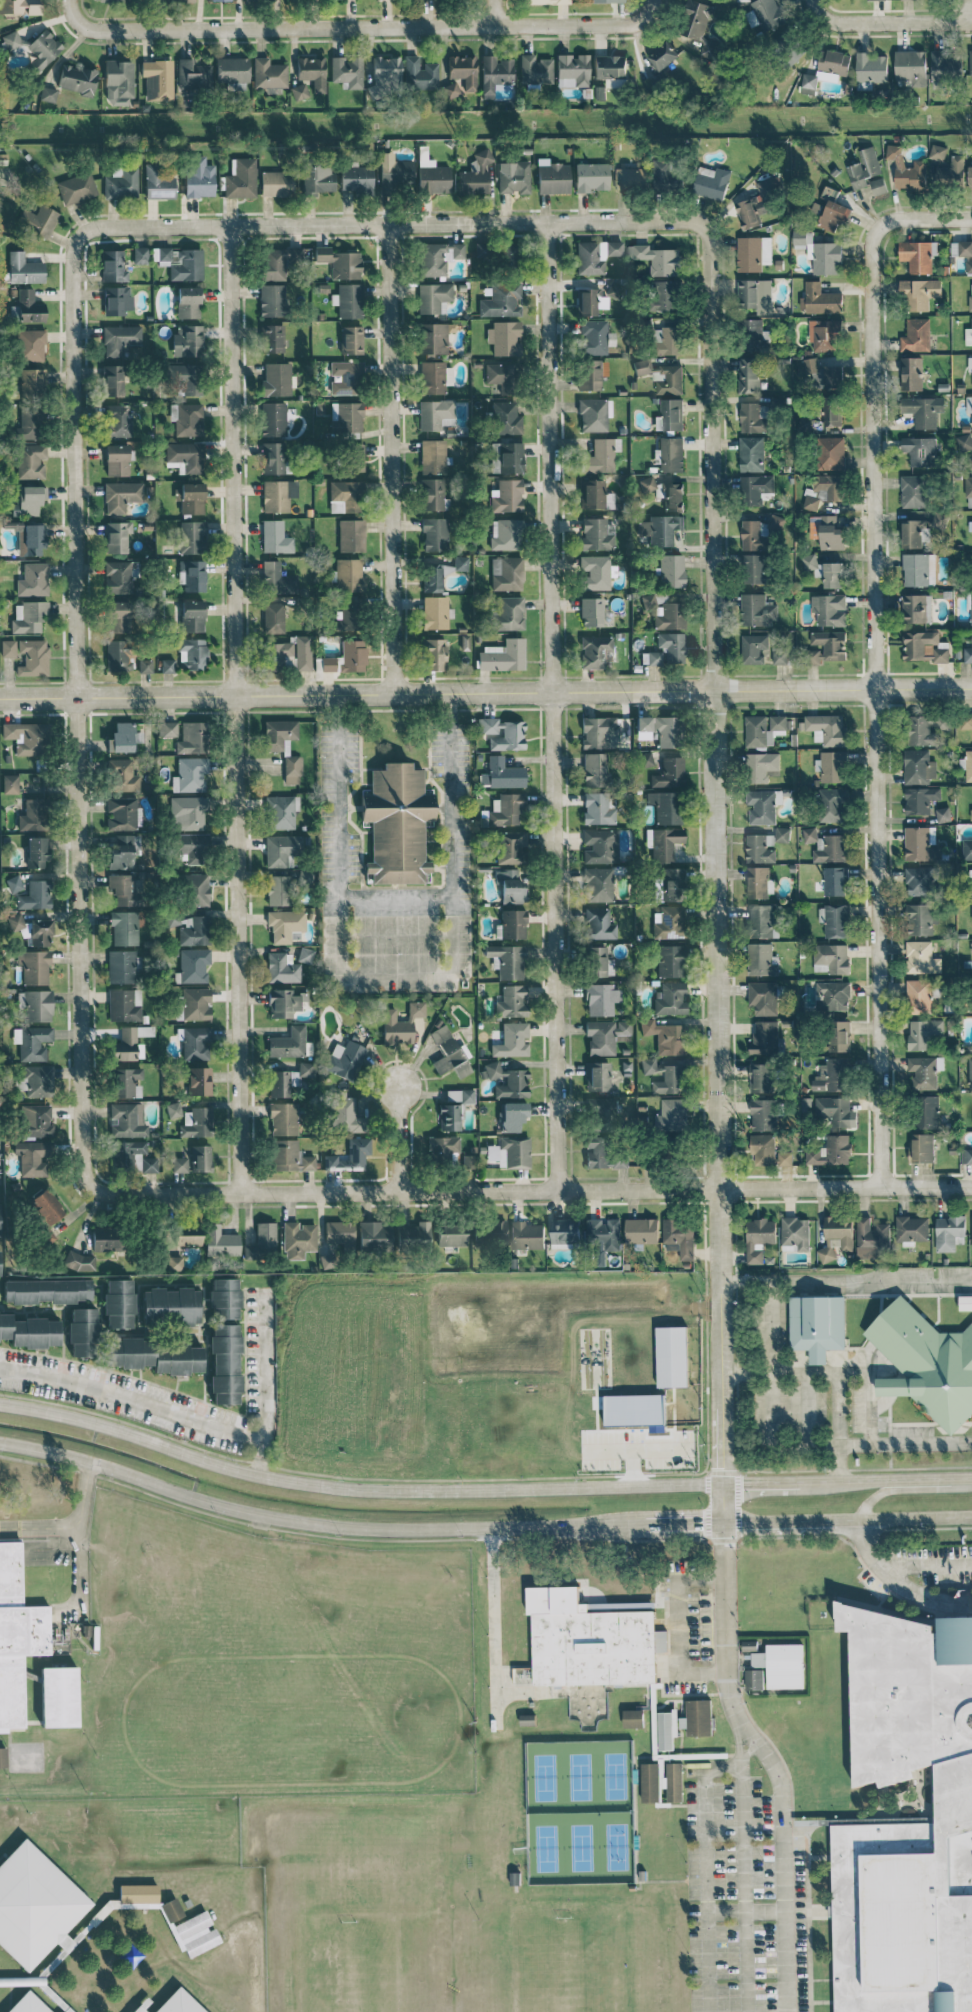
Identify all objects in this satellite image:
building: (103, 0)
building: (180, 0)
building: (546, 1)
building: (606, 1)
building: (20, 6)
road: (808, 8)
road: (649, 9)
road: (968, 9)
road: (72, 11)
road: (494, 13)
building: (765, 14)
road: (892, 19)
building: (699, 25)
road: (360, 26)
building: (37, 47)
building: (663, 55)
building: (834, 61)
building: (970, 62)
building: (946, 64)
building: (871, 67)
building: (910, 67)
building: (535, 69)
building: (572, 70)
building: (232, 71)
building: (347, 71)
building: (384, 71)
building: (463, 71)
building: (312, 72)
building: (420, 72)
building: (269, 73)
building: (193, 75)
building: (495, 75)
building: (76, 79)
building: (157, 79)
building: (119, 82)
building: (809, 83)
building: (451, 89)
building: (299, 91)
building: (599, 92)
building: (48, 94)
building: (938, 152)
building: (864, 167)
building: (907, 169)
building: (950, 170)
building: (395, 173)
building: (475, 174)
building: (969, 175)
building: (432, 176)
building: (666, 176)
building: (198, 177)
building: (317, 177)
building: (514, 177)
building: (552, 177)
building: (591, 177)
building: (240, 178)
building: (357, 179)
building: (631, 179)
building: (711, 181)
building: (160, 182)
building: (121, 183)
building: (276, 183)
building: (878, 185)
building: (76, 188)
building: (757, 202)
building: (834, 211)
road: (920, 218)
building: (41, 221)
road: (391, 223)
building: (961, 248)
building: (482, 250)
building: (753, 252)
building: (820, 252)
building: (140, 255)
building: (595, 255)
building: (917, 255)
building: (438, 257)
building: (507, 258)
building: (657, 258)
building: (280, 261)
building: (182, 262)
building: (340, 262)
building: (113, 266)
building: (968, 266)
building: (23, 269)
building: (613, 288)
building: (920, 292)
building: (756, 294)
building: (970, 294)
building: (665, 295)
building: (433, 297)
building: (820, 298)
building: (116, 300)
building: (272, 300)
building: (501, 300)
building: (587, 301)
building: (188, 302)
building: (29, 306)
building: (825, 333)
building: (750, 334)
building: (968, 334)
building: (916, 335)
building: (593, 336)
building: (434, 337)
building: (119, 338)
building: (272, 338)
building: (504, 338)
building: (351, 339)
building: (669, 339)
building: (187, 340)
building: (31, 345)
building: (643, 366)
building: (591, 373)
building: (824, 373)
building: (911, 373)
building: (971, 373)
building: (749, 374)
building: (502, 376)
building: (347, 377)
building: (432, 377)
building: (187, 379)
building: (277, 379)
building: (669, 379)
building: (113, 380)
building: (32, 381)
building: (923, 409)
building: (832, 410)
building: (971, 410)
building: (434, 413)
building: (594, 414)
building: (670, 414)
building: (346, 417)
building: (754, 417)
building: (507, 418)
building: (273, 419)
building: (117, 420)
building: (190, 420)
building: (28, 423)
building: (920, 450)
building: (831, 452)
building: (671, 453)
building: (751, 453)
building: (187, 455)
building: (432, 456)
building: (600, 456)
building: (273, 457)
building: (353, 457)
building: (506, 457)
road: (390, 458)
building: (31, 460)
building: (117, 460)
building: (646, 483)
building: (756, 488)
building: (823, 490)
building: (913, 490)
building: (969, 491)
building: (347, 494)
building: (433, 494)
building: (594, 494)
building: (122, 495)
building: (278, 495)
building: (507, 496)
building: (672, 496)
building: (190, 498)
building: (28, 500)
building: (940, 521)
building: (969, 525)
building: (661, 528)
building: (759, 531)
building: (827, 531)
building: (914, 532)
building: (435, 534)
building: (506, 534)
building: (597, 534)
building: (349, 535)
building: (192, 536)
building: (116, 537)
building: (275, 537)
building: (32, 540)
building: (460, 562)
building: (755, 568)
building: (919, 569)
building: (825, 570)
building: (670, 571)
building: (506, 573)
building: (192, 575)
building: (349, 575)
building: (118, 577)
building: (432, 577)
building: (33, 579)
building: (277, 579)
building: (648, 601)
building: (971, 605)
building: (829, 609)
building: (758, 610)
building: (591, 611)
building: (434, 612)
building: (508, 614)
building: (349, 615)
building: (28, 616)
building: (117, 616)
building: (192, 616)
building: (670, 616)
building: (273, 617)
building: (827, 645)
building: (925, 646)
building: (671, 647)
building: (753, 647)
building: (8, 648)
building: (596, 651)
building: (303, 652)
building: (192, 653)
building: (278, 654)
building: (435, 654)
building: (967, 654)
building: (117, 655)
building: (503, 655)
building: (783, 655)
building: (33, 657)
building: (347, 658)
building: (651, 658)
building: (145, 665)
building: (167, 665)
road: (486, 692)
road: (553, 706)
road: (875, 708)
road: (234, 709)
road: (77, 712)
building: (778, 721)
building: (965, 722)
building: (643, 727)
building: (826, 728)
building: (167, 729)
building: (667, 730)
building: (920, 730)
building: (757, 731)
building: (600, 732)
building: (503, 733)
building: (123, 737)
building: (27, 738)
building: (192, 738)
building: (284, 746)
building: (645, 759)
building: (760, 765)
building: (968, 765)
building: (832, 766)
building: (918, 766)
building: (595, 769)
building: (191, 773)
building: (501, 773)
building: (669, 773)
building: (122, 776)
building: (10, 784)
building: (920, 798)
building: (832, 803)
building: (665, 806)
building: (761, 806)
building: (506, 809)
building: (597, 809)
building: (282, 811)
building: (190, 812)
building: (122, 813)
building: (32, 815)
building: (397, 822)
building: (782, 833)
building: (665, 843)
building: (921, 843)
building: (826, 845)
building: (600, 846)
building: (192, 847)
building: (510, 847)
building: (281, 849)
building: (758, 849)
building: (966, 849)
building: (37, 852)
building: (122, 852)
road: (715, 853)
building: (304, 879)
building: (836, 880)
building: (919, 880)
building: (759, 881)
building: (13, 883)
building: (598, 884)
building: (509, 885)
building: (669, 885)
building: (125, 889)
building: (196, 890)
building: (278, 890)
building: (35, 895)
road: (396, 900)
building: (971, 912)
building: (835, 919)
building: (920, 919)
building: (760, 920)
building: (669, 922)
building: (513, 923)
building: (598, 923)
building: (284, 924)
building: (124, 928)
building: (32, 930)
building: (195, 931)
road: (395, 934)
building: (304, 955)
building: (921, 956)
building: (831, 958)
building: (762, 959)
building: (506, 960)
building: (670, 960)
building: (599, 962)
building: (193, 965)
building: (34, 966)
building: (121, 966)
building: (281, 968)
road: (396, 975)
building: (918, 994)
building: (832, 995)
building: (763, 997)
building: (670, 998)
building: (601, 999)
building: (513, 1001)
building: (284, 1002)
building: (124, 1004)
building: (193, 1004)
building: (37, 1005)
building: (400, 1024)
building: (923, 1032)
building: (606, 1035)
building: (839, 1035)
building: (665, 1036)
building: (512, 1040)
building: (128, 1043)
building: (196, 1043)
building: (290, 1043)
building: (448, 1053)
building: (345, 1059)
building: (648, 1065)
building: (305, 1069)
building: (923, 1071)
building: (970, 1072)
building: (832, 1075)
building: (597, 1076)
building: (761, 1077)
building: (672, 1079)
building: (36, 1080)
building: (507, 1080)
building: (198, 1081)
building: (126, 1082)
building: (278, 1083)
building: (460, 1095)
building: (835, 1110)
building: (926, 1111)
building: (344, 1114)
building: (600, 1114)
building: (672, 1114)
building: (762, 1114)
building: (513, 1116)
building: (449, 1117)
building: (283, 1118)
building: (127, 1119)
building: (36, 1120)
building: (196, 1122)
road: (398, 1138)
building: (922, 1147)
building: (442, 1148)
building: (763, 1149)
building: (831, 1150)
building: (514, 1151)
building: (127, 1153)
building: (602, 1153)
building: (350, 1155)
building: (290, 1156)
building: (966, 1156)
building: (33, 1157)
building: (201, 1158)
building: (784, 1158)
building: (468, 1161)
building: (149, 1164)
building: (179, 1164)
road: (532, 1190)
building: (47, 1206)
building: (641, 1229)
building: (911, 1229)
building: (489, 1230)
building: (677, 1230)
building: (566, 1231)
building: (339, 1232)
building: (796, 1232)
building: (949, 1232)
building: (605, 1233)
building: (413, 1234)
building: (451, 1234)
building: (375, 1235)
building: (527, 1235)
building: (187, 1236)
building: (836, 1236)
building: (106, 1237)
building: (759, 1237)
building: (872, 1238)
building: (298, 1239)
building: (221, 1241)
building: (262, 1241)
building: (327, 1260)
building: (80, 1261)
building: (175, 1262)
road: (844, 1286)
building: (47, 1290)
building: (224, 1298)
building: (965, 1302)
building: (119, 1303)
building: (170, 1306)
building: (817, 1325)
building: (29, 1331)
building: (83, 1332)
building: (156, 1356)
building: (672, 1356)
road: (770, 1361)
road: (834, 1361)
building: (925, 1362)
building: (225, 1364)
road: (830, 1372)
road: (266, 1383)
road: (885, 1387)
road: (134, 1399)
building: (636, 1410)
road: (871, 1442)
road: (636, 1450)
road: (631, 1468)
road: (898, 1478)
road: (773, 1482)
road: (950, 1482)
road: (355, 1487)
road: (886, 1490)
road: (722, 1503)
road: (916, 1518)
road: (791, 1521)
road: (307, 1523)
road: (675, 1524)
road: (38, 1527)
road: (77, 1545)
road: (923, 1563)
road: (898, 1583)
road: (492, 1603)
road: (676, 1627)
building: (17, 1635)
building: (591, 1639)
building: (749, 1644)
building: (781, 1664)
building: (754, 1678)
building: (59, 1696)
building: (697, 1716)
building: (633, 1717)
building: (527, 1718)
building: (666, 1728)
road: (743, 1746)
building: (3, 1757)
road: (771, 1761)
road: (721, 1767)
park: (544, 1775)
park: (614, 1775)
park: (579, 1776)
building: (650, 1781)
building: (673, 1781)
building: (907, 1823)
park: (616, 1845)
park: (581, 1846)
park: (545, 1847)
road: (742, 1884)
road: (704, 1890)
building: (138, 1893)
building: (34, 1904)
building: (171, 1909)
road: (743, 1909)
building: (60, 1954)
building: (178, 2003)
building: (27, 2004)
building: (141, 2005)

